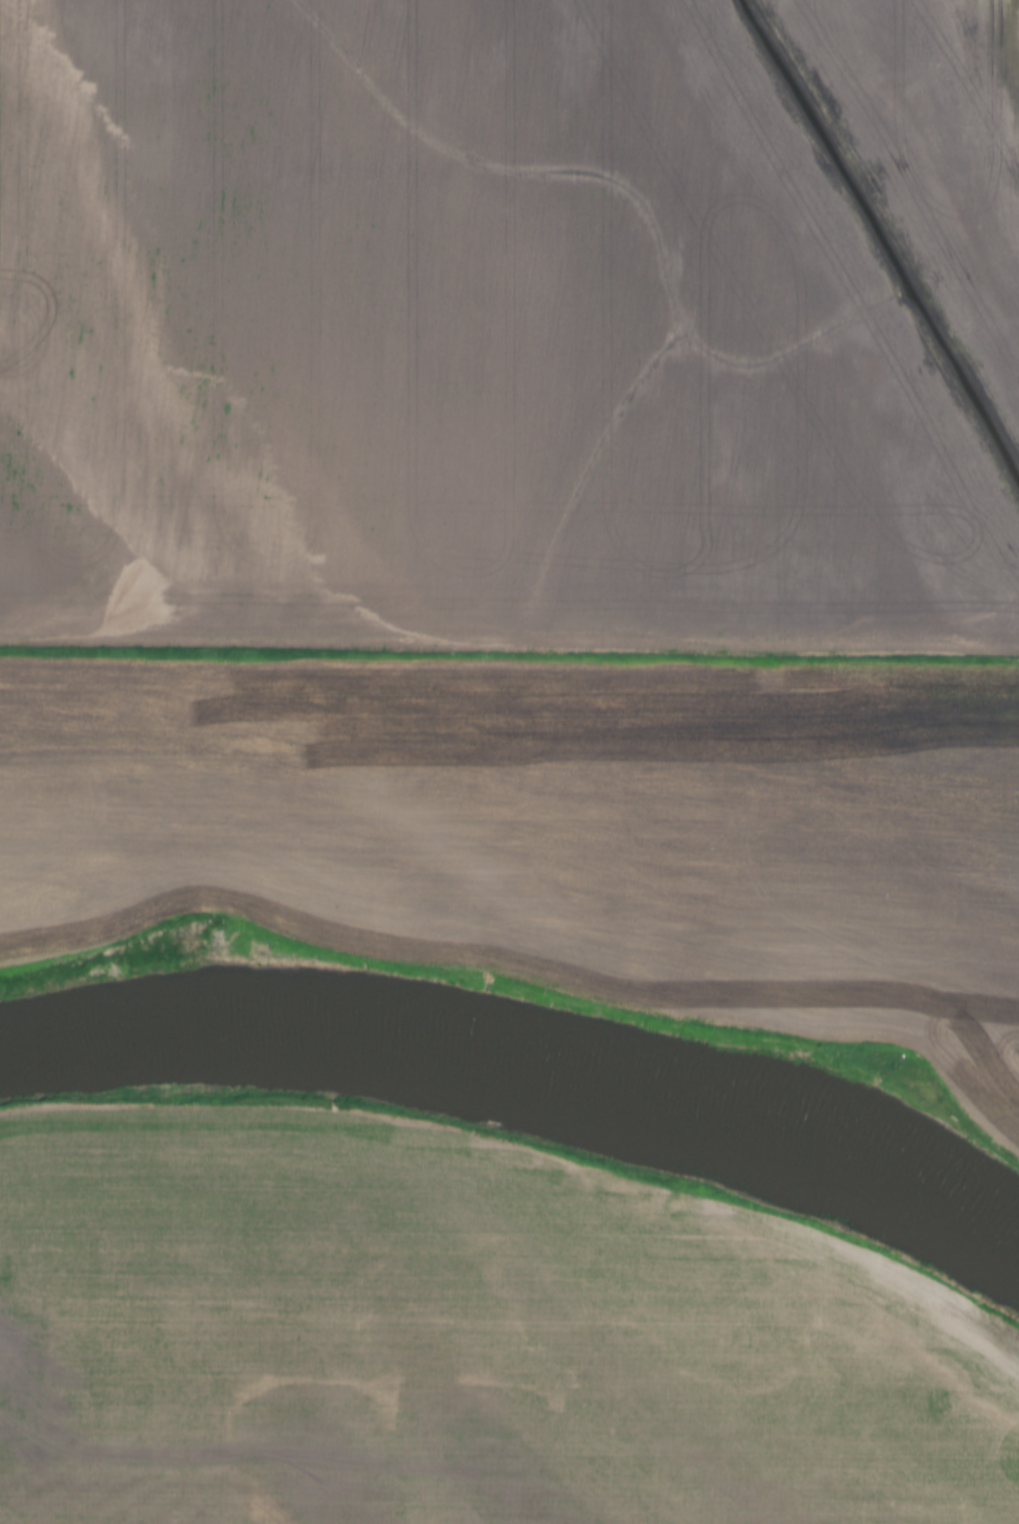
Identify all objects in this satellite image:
river: (523, 1062)

